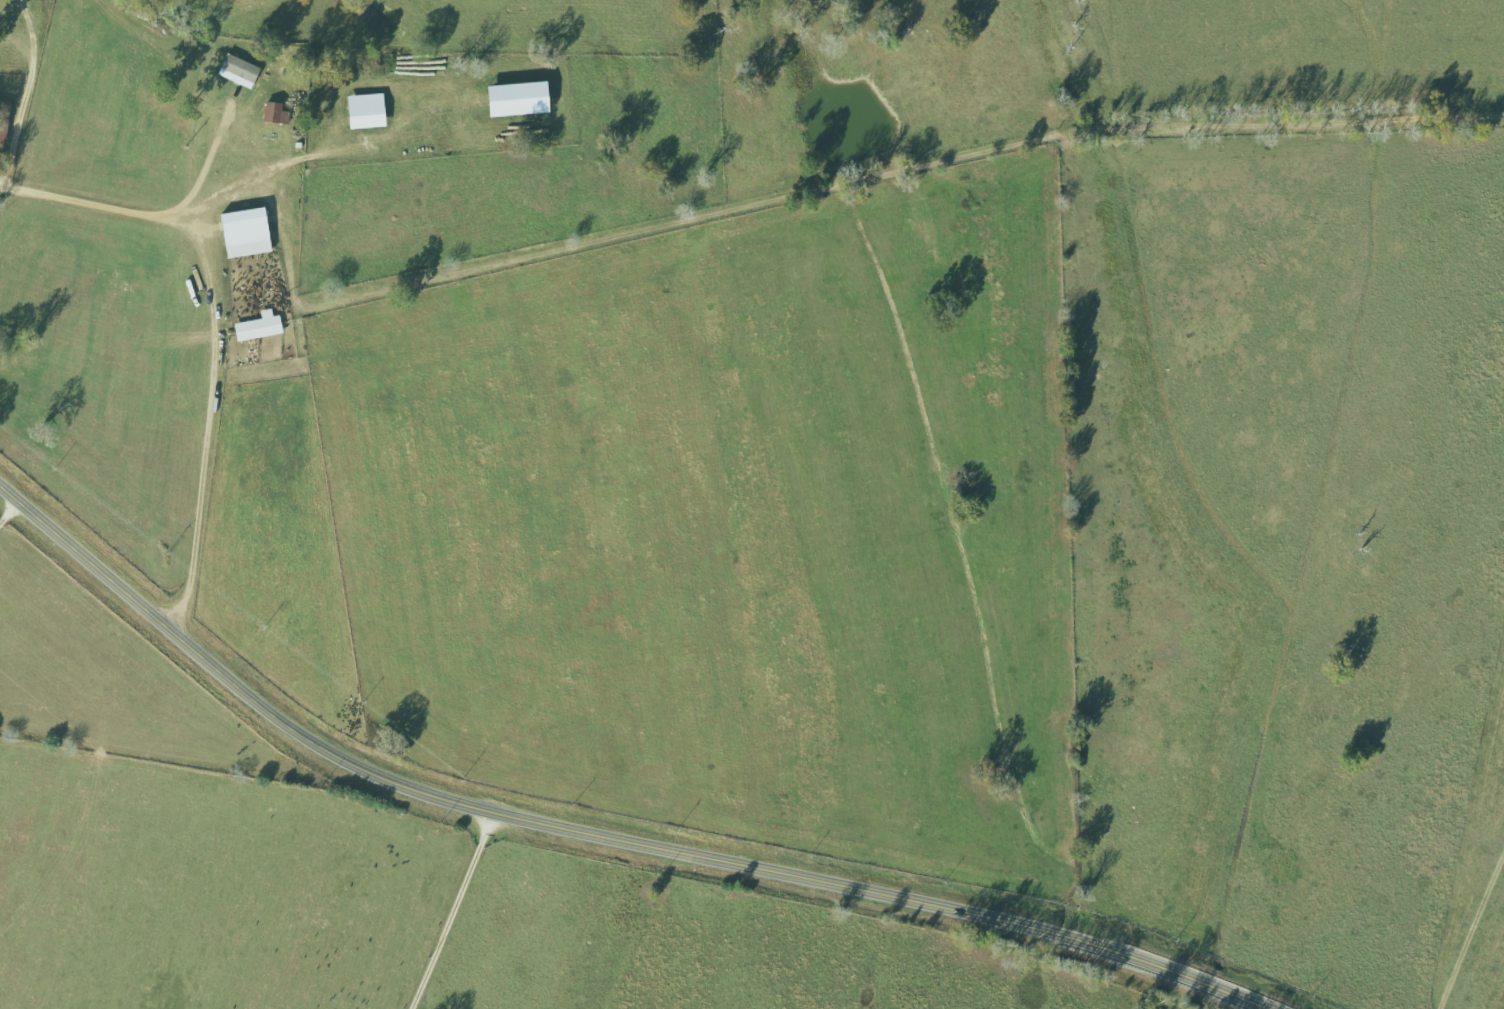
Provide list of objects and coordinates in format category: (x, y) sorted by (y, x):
building: (243, 71)
building: (525, 98)
building: (371, 110)
building: (279, 112)
road: (116, 212)
building: (251, 231)
building: (263, 326)
road: (591, 833)

